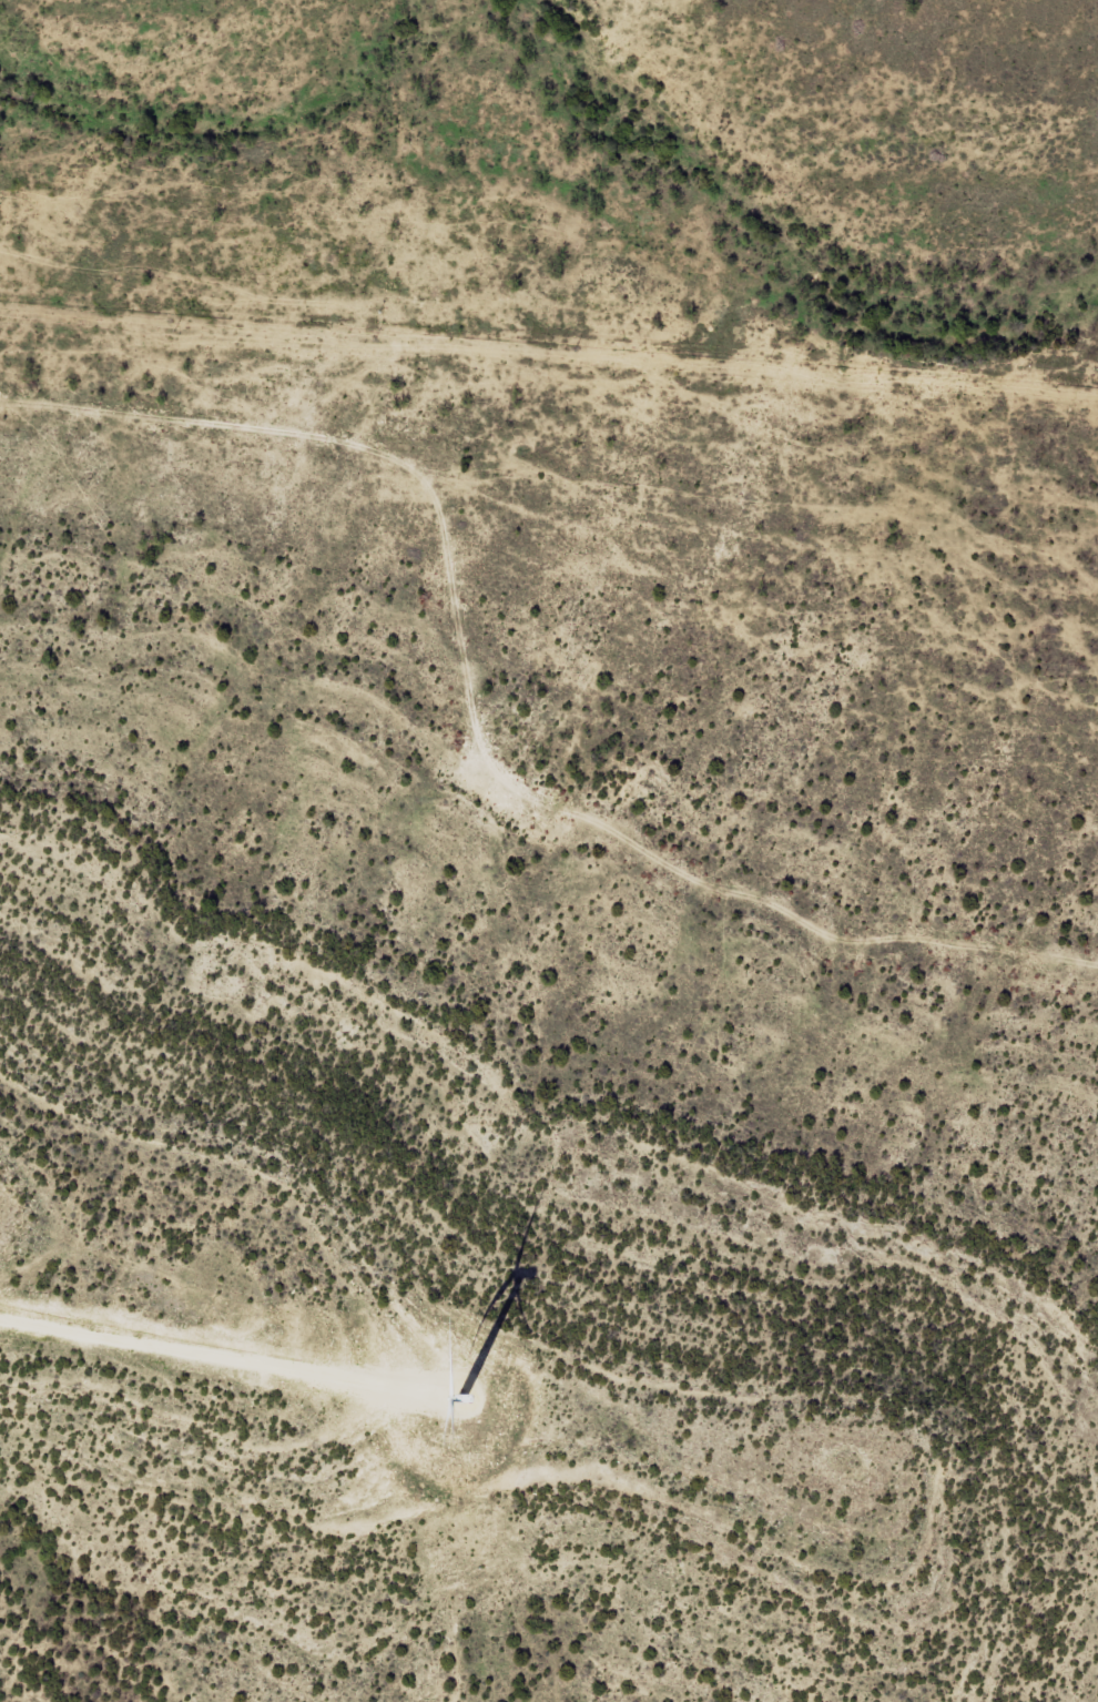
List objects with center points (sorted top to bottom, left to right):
road: (331, 408)
wind turbine: (455, 1404)

